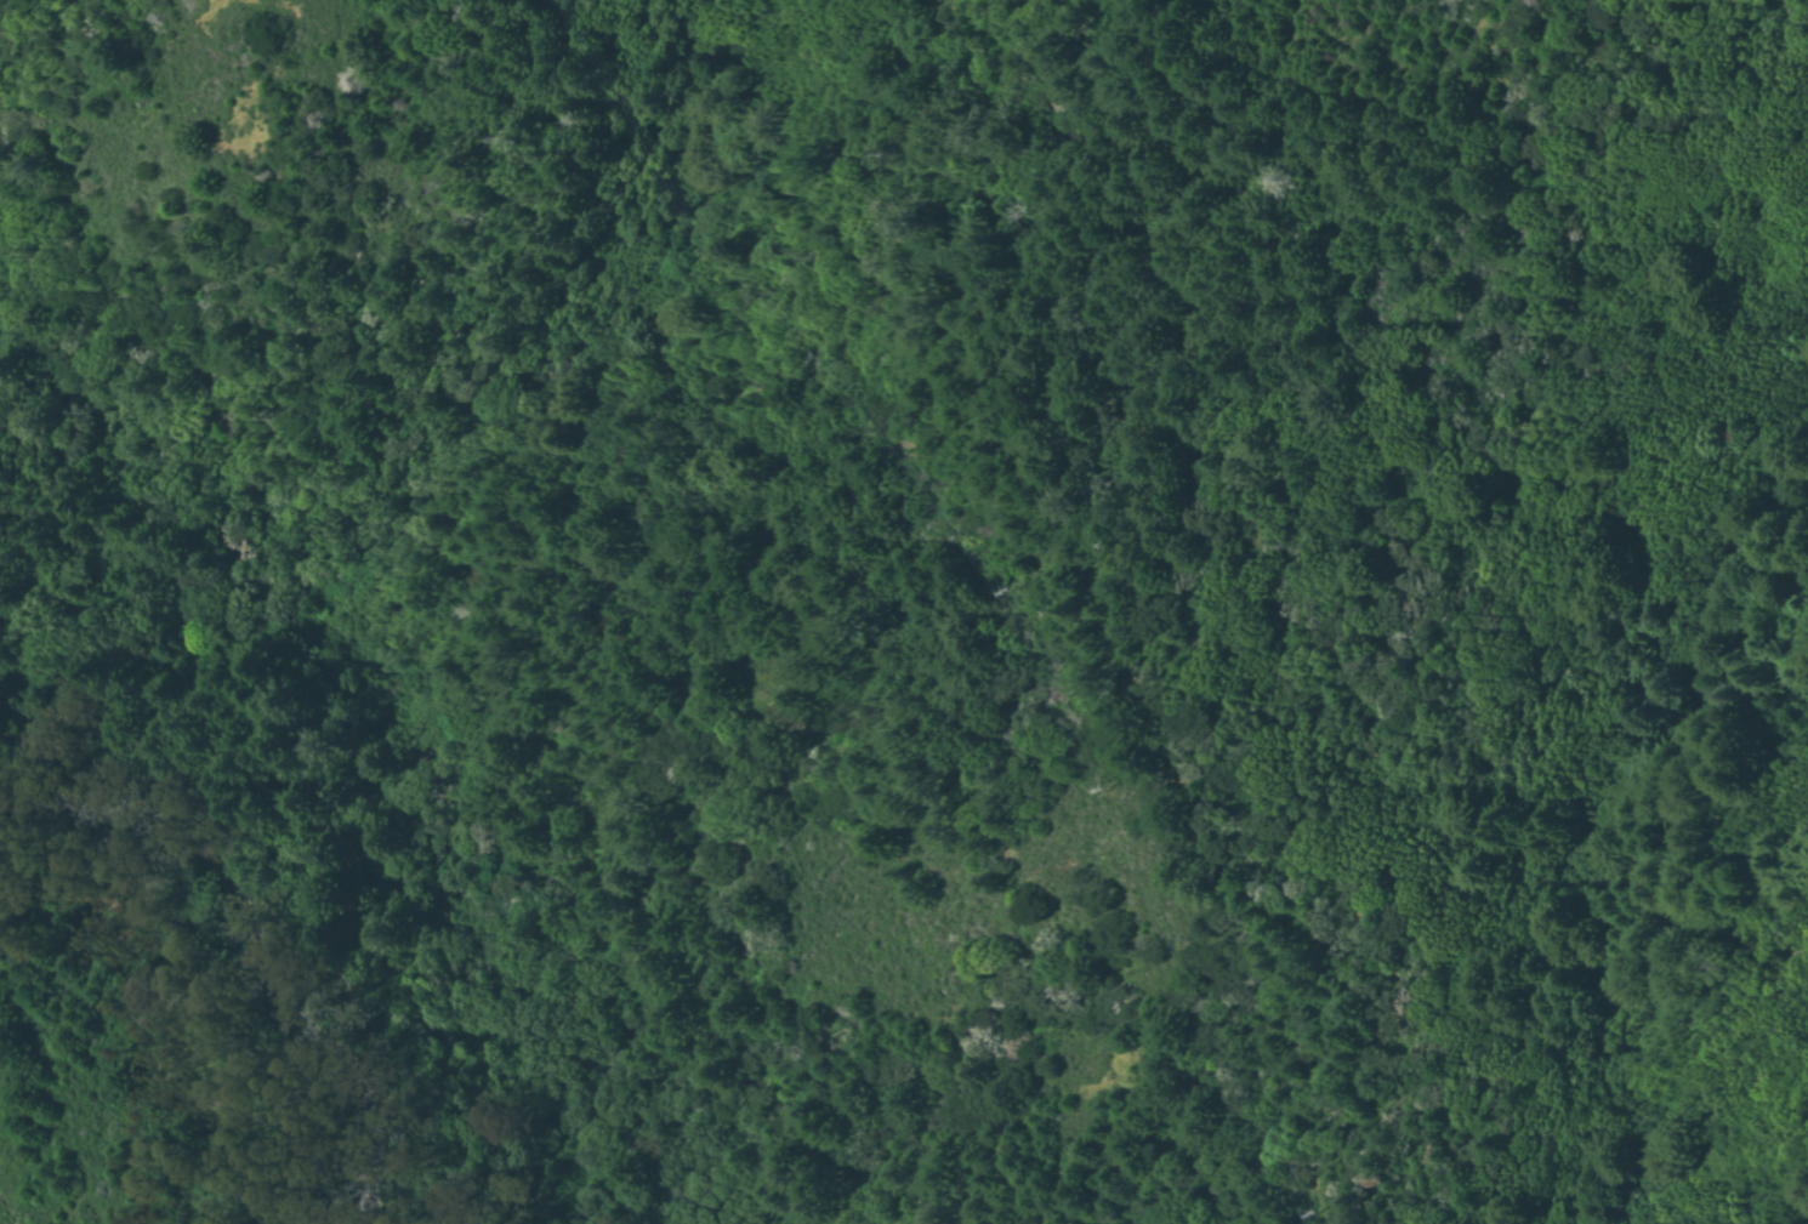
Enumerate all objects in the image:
road: (255, 944)

